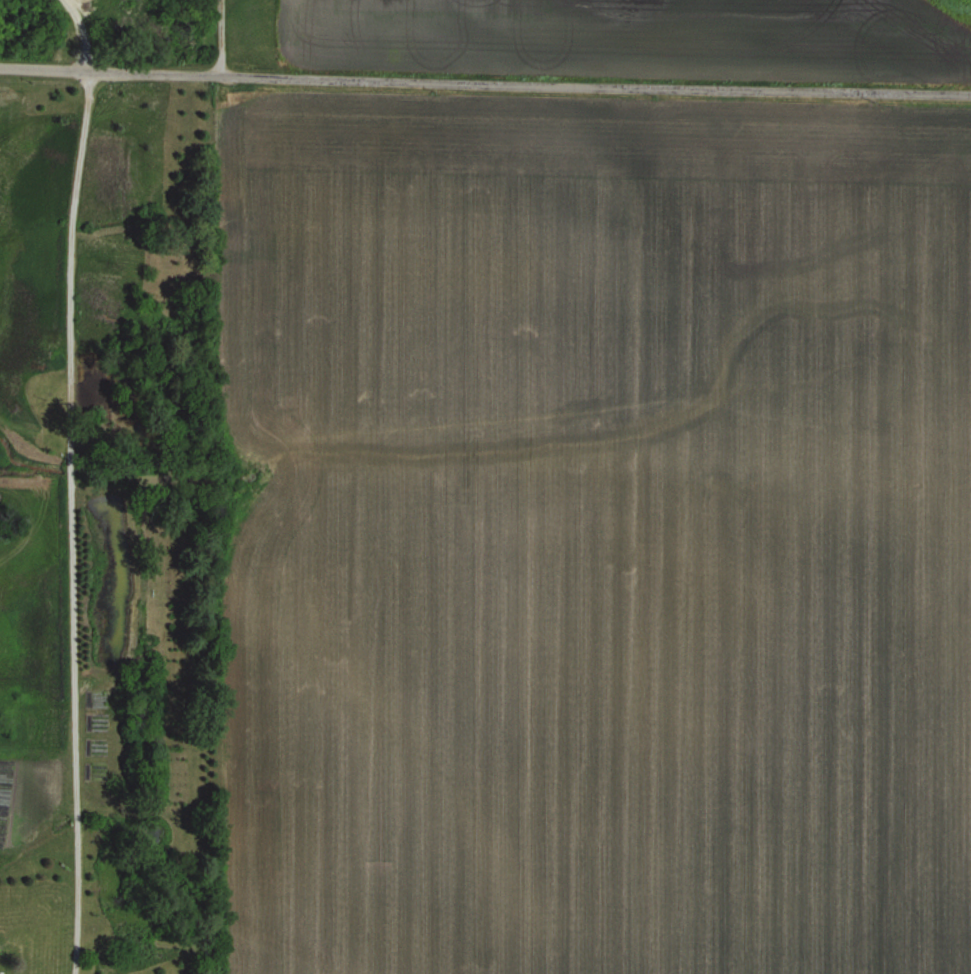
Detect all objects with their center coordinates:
road: (83, 33)
road: (218, 37)
road: (485, 82)
road: (72, 522)

